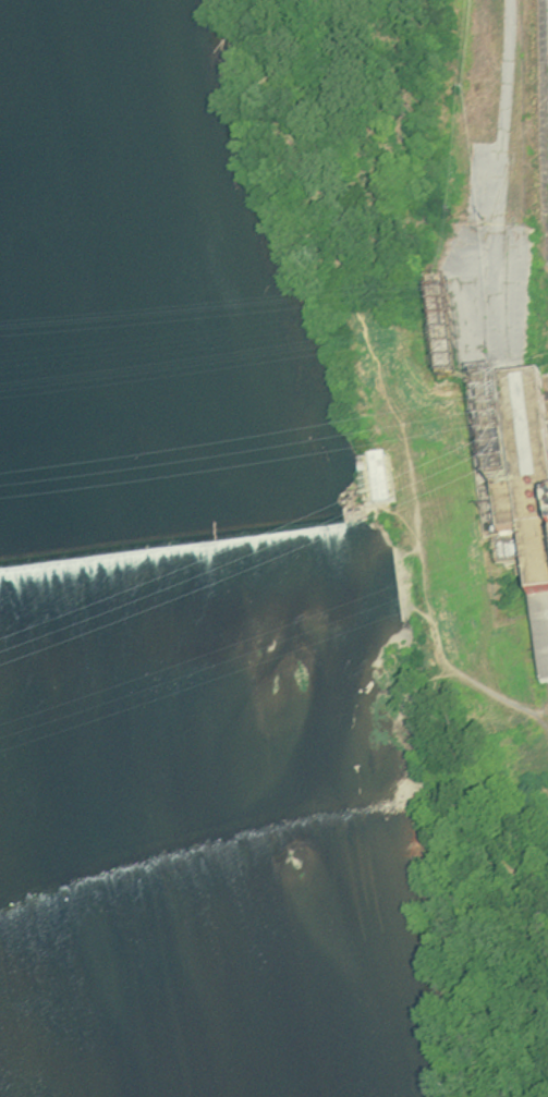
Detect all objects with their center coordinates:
road: (506, 112)
river: (45, 346)
building: (546, 394)
building: (381, 483)
building: (545, 563)
river: (144, 822)

